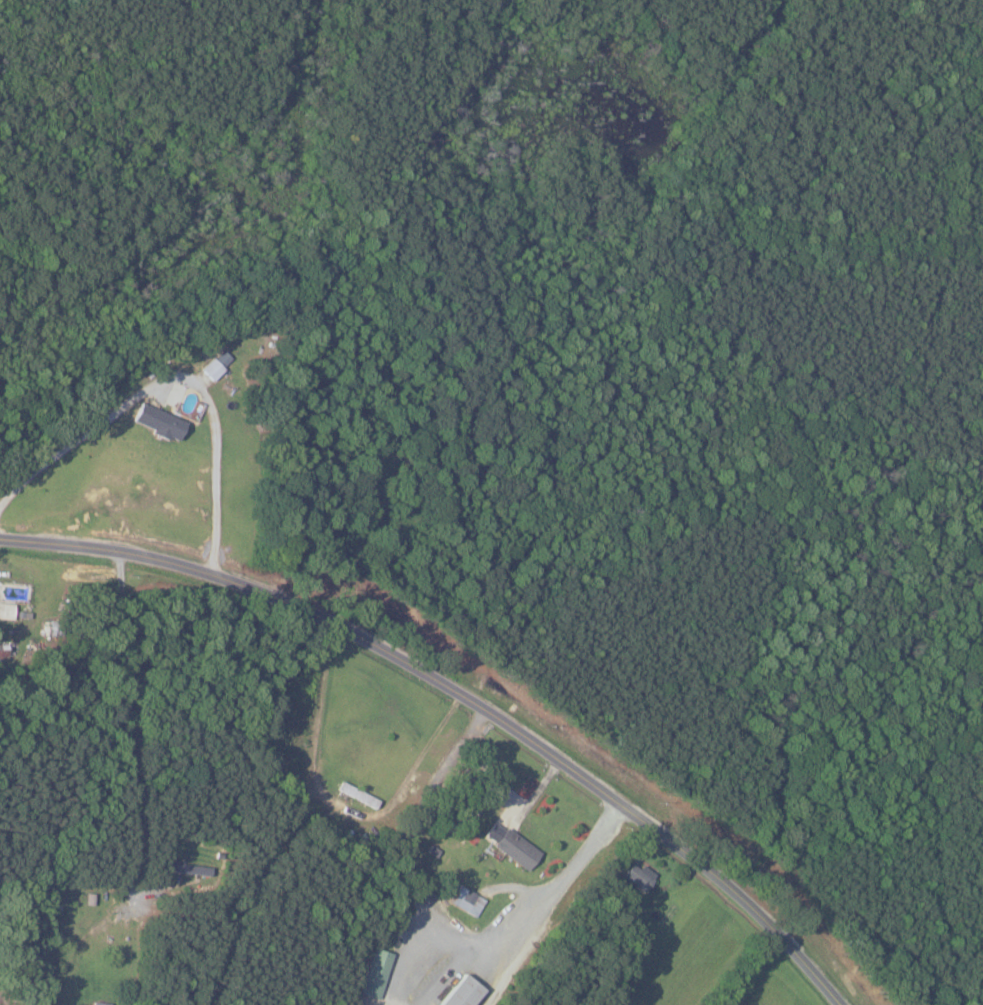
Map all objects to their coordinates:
building: (216, 364)
road: (174, 376)
building: (158, 420)
building: (6, 610)
road: (461, 696)
road: (125, 725)
road: (336, 802)
building: (511, 841)
building: (638, 876)
road: (560, 881)
building: (467, 900)
road: (761, 970)
building: (375, 973)
building: (462, 992)
building: (99, 1003)

